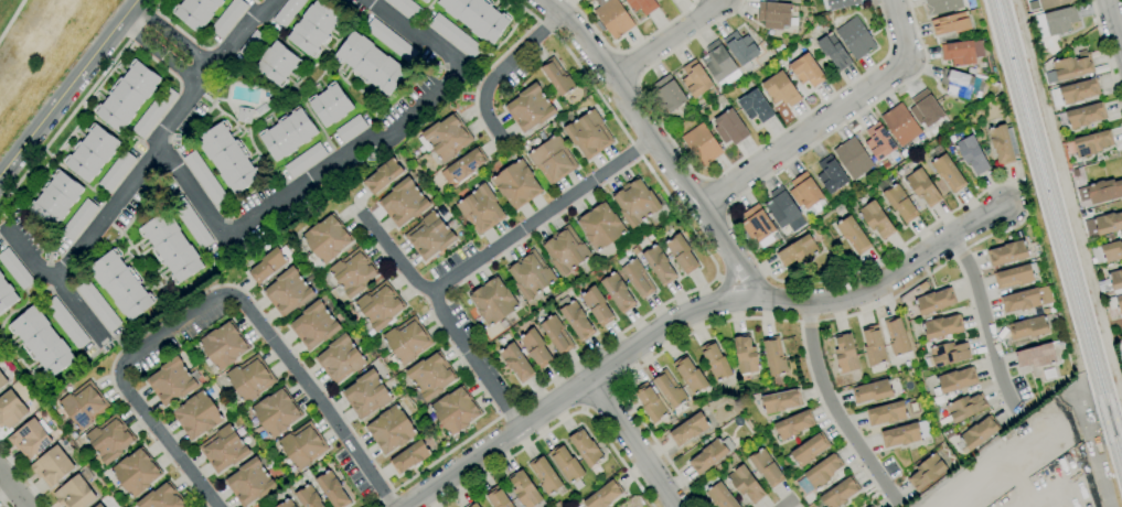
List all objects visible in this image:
building: (659, 0)
building: (425, 1)
building: (841, 3)
building: (1052, 3)
building: (642, 6)
building: (942, 6)
building: (405, 8)
building: (195, 12)
building: (287, 12)
building: (773, 14)
building: (228, 17)
building: (477, 18)
building: (611, 18)
road: (10, 19)
building: (1055, 21)
road: (1115, 22)
building: (951, 23)
building: (313, 28)
building: (455, 35)
road: (173, 37)
road: (665, 37)
building: (855, 37)
building: (391, 41)
building: (252, 45)
road: (627, 50)
building: (741, 50)
park: (39, 51)
building: (834, 52)
building: (962, 52)
road: (160, 55)
road: (1107, 58)
building: (277, 63)
building: (370, 63)
building: (719, 64)
building: (1070, 67)
building: (806, 71)
road: (503, 74)
building: (557, 77)
building: (695, 79)
building: (957, 84)
road: (67, 86)
building: (781, 89)
building: (1079, 90)
building: (667, 94)
building: (127, 96)
road: (626, 98)
road: (79, 104)
building: (330, 105)
building: (755, 106)
building: (530, 108)
building: (926, 108)
building: (260, 110)
building: (153, 111)
building: (244, 115)
road: (829, 115)
building: (1082, 116)
road: (391, 123)
building: (900, 125)
building: (350, 128)
building: (729, 128)
building: (287, 134)
building: (588, 134)
building: (445, 138)
road: (165, 140)
building: (878, 141)
building: (1089, 143)
building: (702, 144)
building: (1003, 144)
building: (92, 153)
building: (972, 154)
building: (227, 158)
building: (853, 158)
building: (304, 160)
building: (552, 160)
building: (463, 166)
building: (116, 171)
building: (948, 173)
road: (716, 175)
building: (831, 175)
building: (382, 176)
building: (204, 177)
building: (516, 184)
road: (997, 186)
building: (922, 187)
building: (1104, 191)
building: (806, 193)
building: (55, 198)
building: (897, 199)
road: (188, 201)
building: (634, 202)
building: (403, 203)
building: (480, 209)
building: (783, 209)
road: (548, 217)
building: (78, 219)
building: (876, 219)
railway: (1059, 220)
building: (191, 222)
building: (1108, 224)
road: (4, 225)
building: (600, 226)
building: (757, 226)
building: (853, 235)
building: (429, 236)
building: (327, 239)
railway: (1054, 245)
building: (171, 247)
road: (727, 249)
building: (565, 250)
building: (797, 251)
building: (1108, 252)
building: (681, 253)
building: (1007, 253)
building: (659, 265)
building: (267, 266)
building: (14, 269)
building: (353, 272)
building: (531, 274)
building: (1013, 277)
building: (638, 278)
building: (1111, 282)
road: (883, 283)
building: (120, 284)
road: (61, 287)
building: (287, 292)
building: (618, 292)
road: (688, 293)
building: (6, 294)
building: (1026, 300)
building: (493, 301)
building: (934, 301)
building: (97, 304)
building: (1115, 304)
building: (380, 305)
road: (223, 306)
building: (597, 306)
road: (450, 314)
road: (984, 320)
building: (577, 321)
building: (65, 323)
building: (313, 326)
building: (942, 326)
building: (1028, 328)
building: (556, 335)
building: (897, 336)
building: (407, 341)
building: (41, 342)
building: (223, 345)
building: (873, 346)
building: (535, 348)
building: (845, 353)
building: (945, 354)
building: (774, 356)
building: (1035, 356)
building: (746, 357)
building: (340, 359)
building: (715, 362)
building: (516, 363)
building: (690, 375)
building: (431, 376)
building: (249, 379)
building: (2, 380)
building: (954, 380)
building: (171, 381)
building: (670, 388)
road: (568, 390)
building: (872, 391)
building: (366, 395)
building: (781, 401)
building: (650, 402)
building: (84, 406)
building: (965, 407)
road: (834, 409)
building: (10, 410)
building: (455, 411)
building: (276, 412)
building: (886, 413)
building: (196, 416)
road: (1108, 420)
road: (558, 423)
building: (793, 424)
building: (688, 429)
building: (391, 430)
building: (979, 433)
building: (905, 434)
building: (30, 438)
building: (108, 440)
road: (630, 442)
building: (302, 445)
building: (585, 446)
building: (223, 449)
building: (809, 450)
building: (710, 455)
building: (409, 457)
building: (52, 466)
building: (567, 466)
building: (766, 467)
building: (926, 472)
building: (136, 473)
building: (820, 474)
building: (544, 475)
road: (23, 476)
building: (249, 483)
building: (746, 485)
road: (12, 489)
building: (332, 489)
building: (524, 489)
building: (74, 494)
building: (718, 494)
building: (837, 494)
building: (603, 495)
building: (308, 497)
building: (498, 497)
building: (162, 498)
road: (790, 503)
road: (2, 504)
building: (286, 504)
building: (98, 505)
building: (472, 505)
building: (868, 506)
building: (869, 506)

